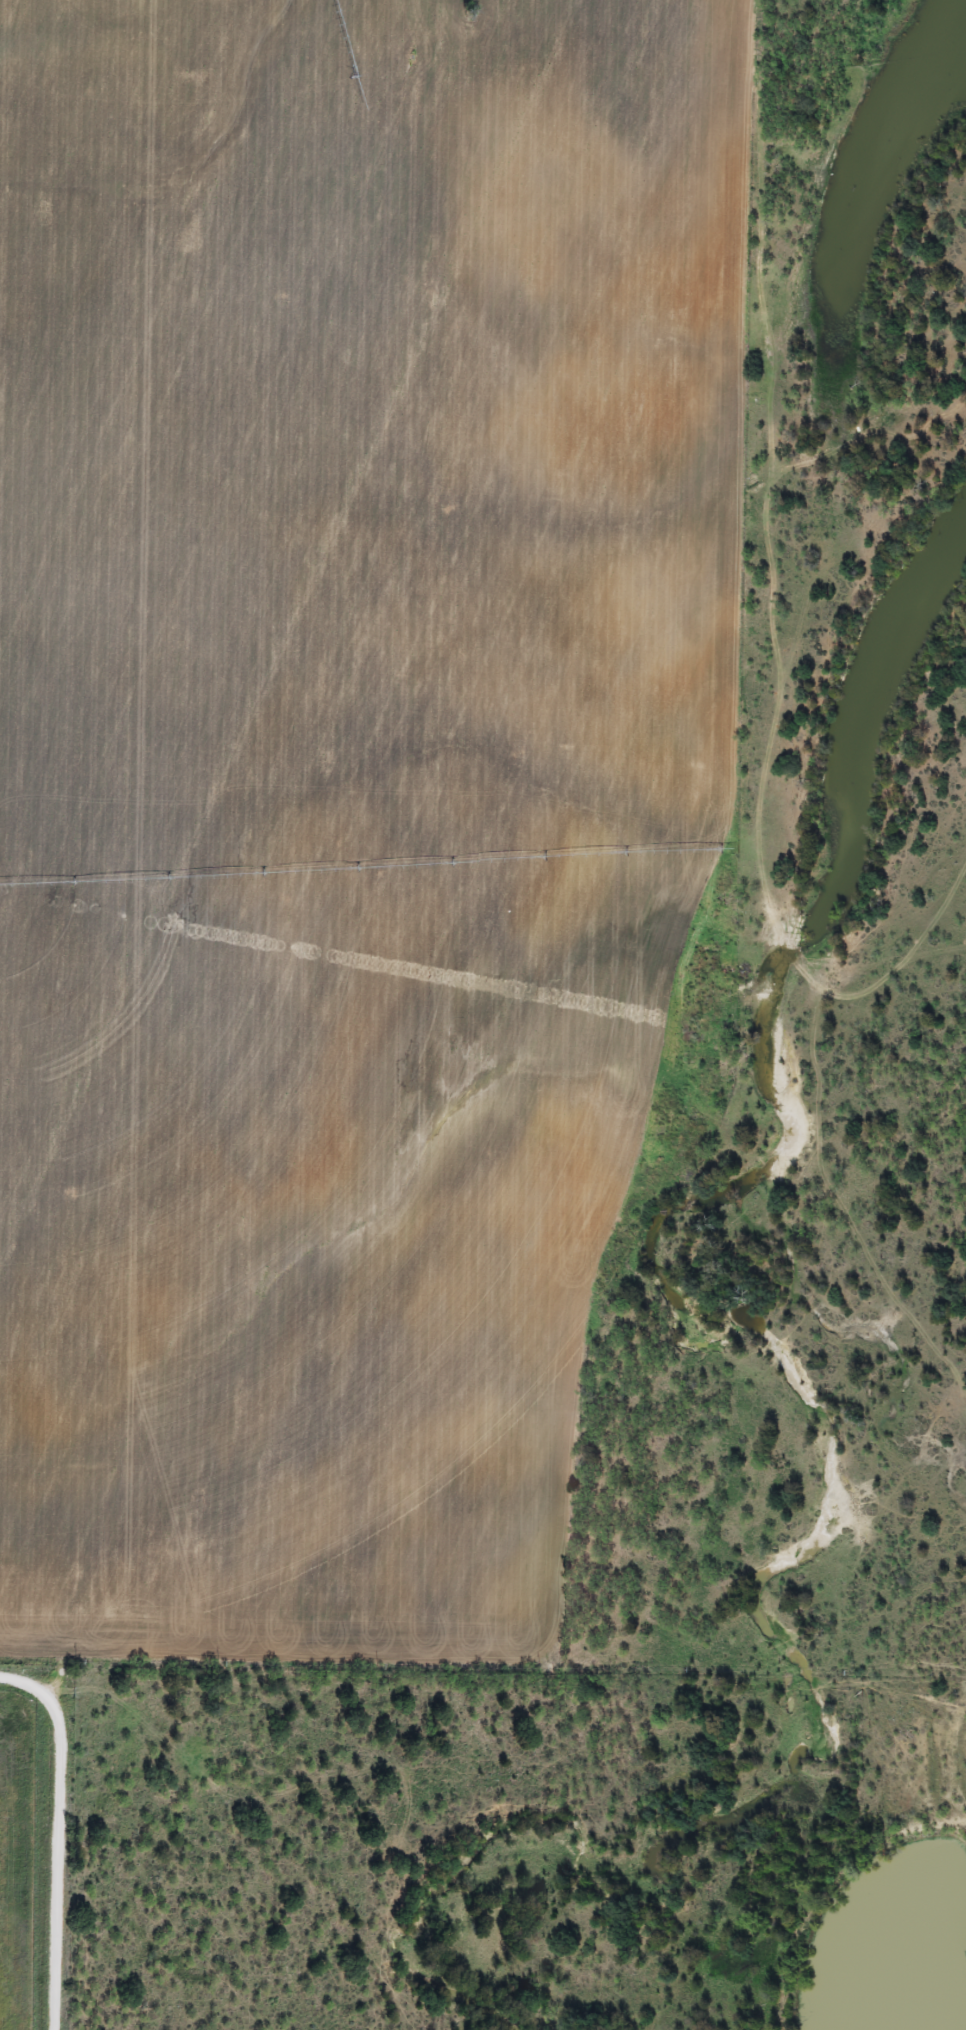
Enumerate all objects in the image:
road: (64, 1848)

